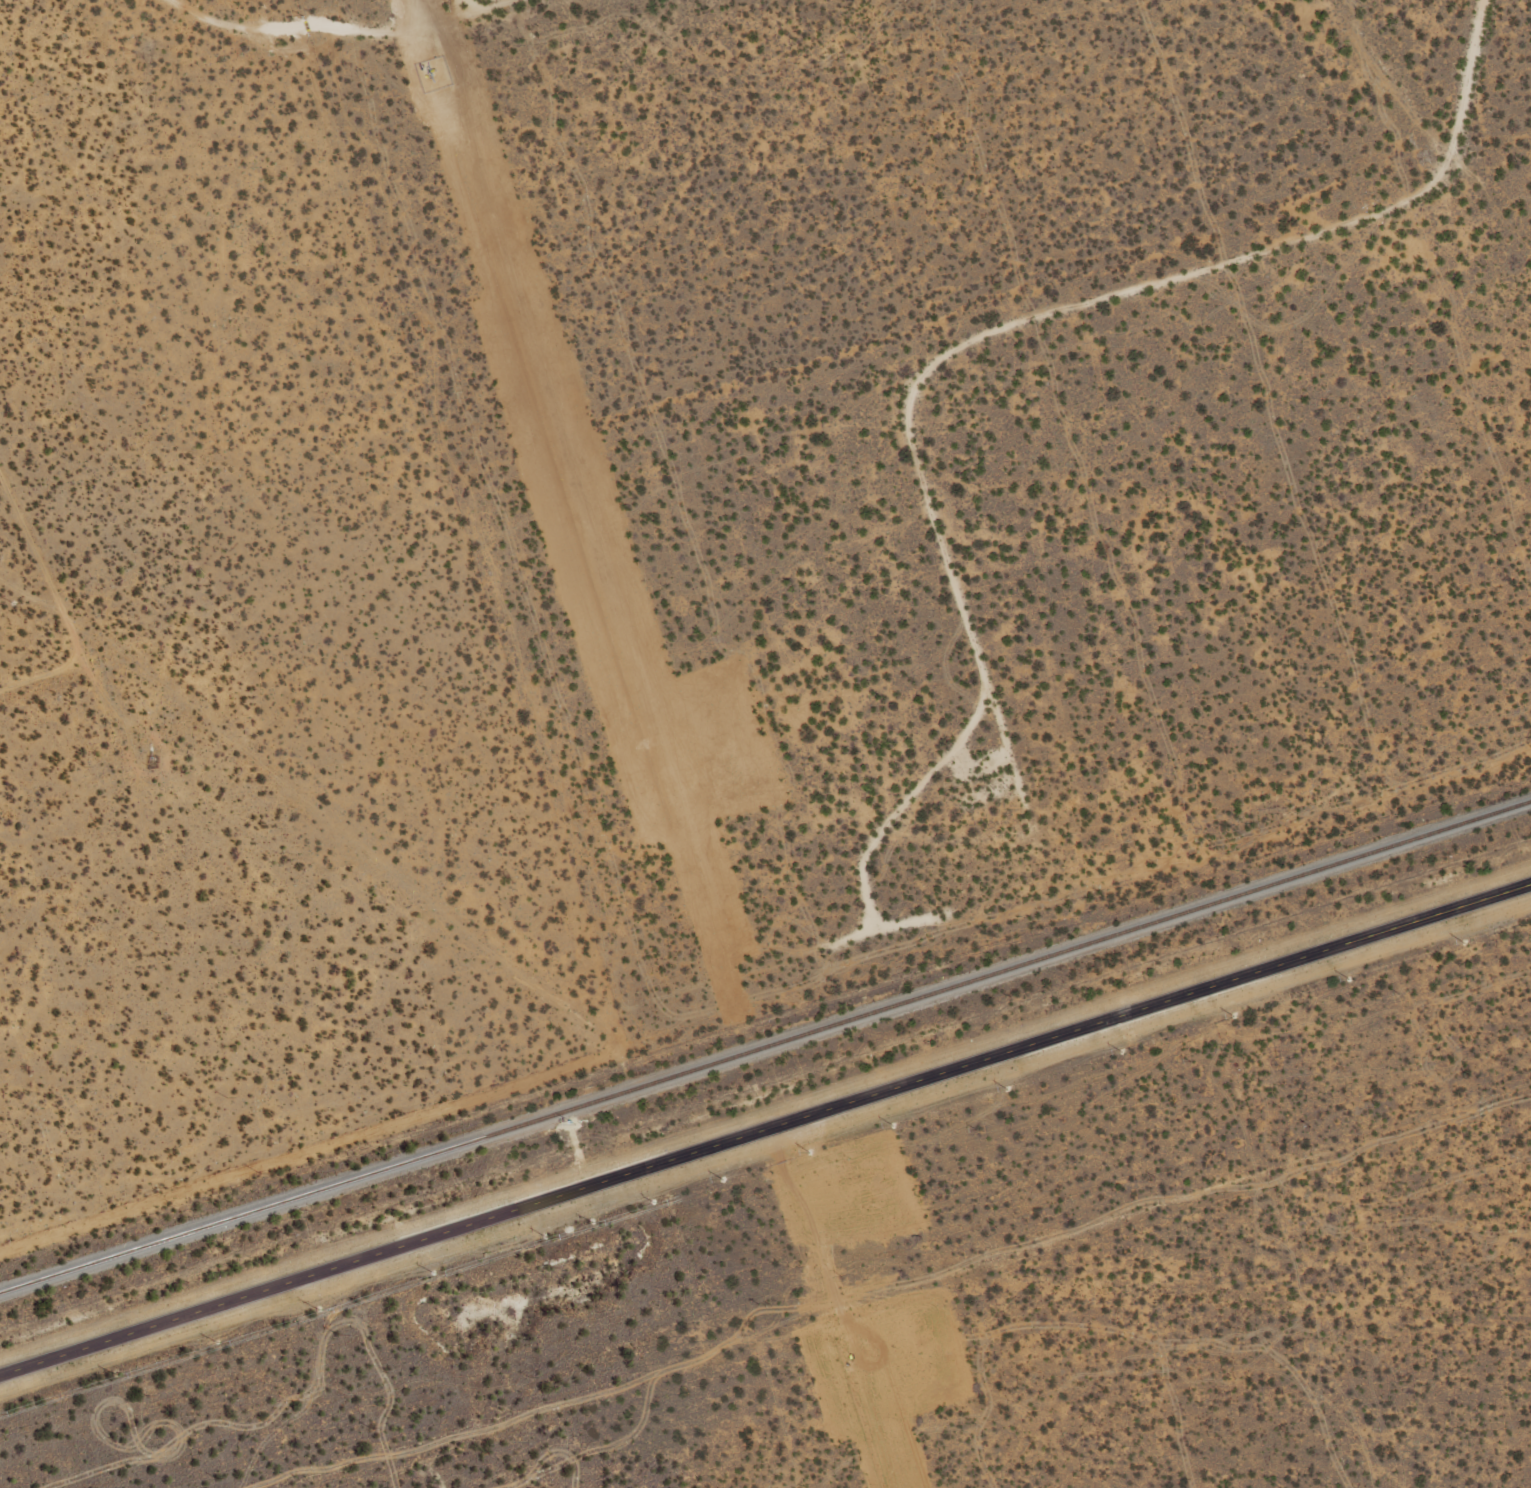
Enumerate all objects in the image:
road: (381, 79)
road: (15, 636)
railway: (765, 1046)
road: (765, 1130)

